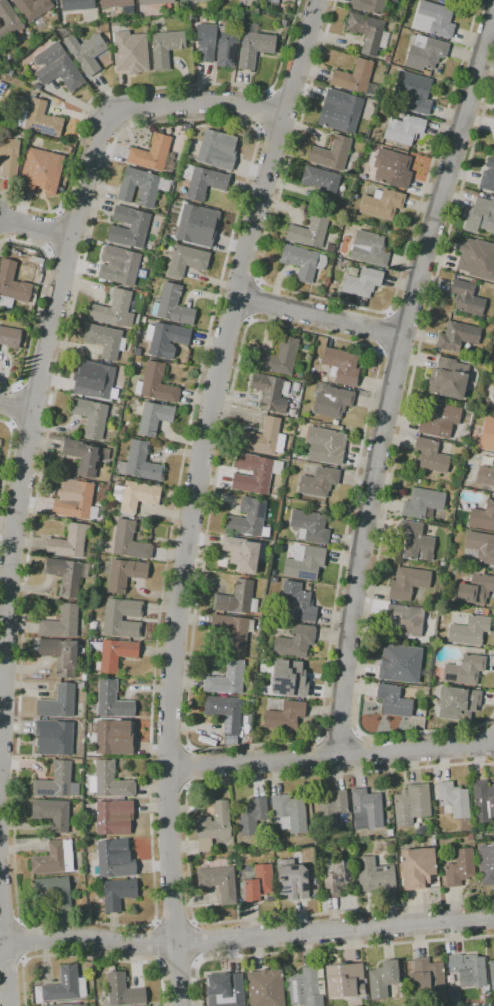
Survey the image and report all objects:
building: (189, 0)
building: (286, 0)
building: (154, 2)
building: (272, 2)
building: (411, 3)
building: (118, 5)
building: (76, 6)
building: (370, 6)
building: (33, 11)
building: (433, 19)
building: (8, 22)
building: (282, 23)
building: (367, 33)
building: (216, 44)
building: (165, 48)
building: (253, 49)
building: (134, 51)
building: (86, 52)
building: (424, 53)
building: (57, 68)
building: (355, 78)
building: (36, 86)
road: (290, 88)
road: (138, 89)
building: (414, 95)
road: (263, 110)
building: (339, 111)
building: (39, 119)
building: (404, 128)
road: (255, 129)
road: (277, 131)
building: (493, 131)
building: (43, 142)
building: (217, 150)
building: (329, 150)
building: (153, 155)
building: (9, 157)
building: (391, 169)
building: (41, 170)
building: (488, 176)
building: (203, 182)
building: (321, 183)
building: (141, 187)
building: (382, 204)
building: (484, 214)
road: (73, 220)
building: (197, 225)
building: (137, 227)
road: (34, 230)
building: (309, 231)
building: (330, 248)
building: (369, 249)
building: (474, 257)
building: (187, 260)
building: (120, 265)
building: (300, 265)
road: (64, 266)
road: (241, 269)
building: (15, 281)
building: (361, 283)
building: (466, 298)
road: (254, 300)
road: (37, 302)
road: (338, 303)
building: (172, 306)
building: (114, 310)
road: (231, 314)
road: (319, 314)
road: (405, 318)
road: (382, 330)
road: (49, 331)
building: (457, 336)
building: (10, 337)
building: (165, 339)
building: (104, 341)
road: (358, 342)
building: (137, 352)
road: (397, 354)
building: (279, 357)
building: (342, 365)
road: (392, 378)
building: (448, 378)
building: (487, 379)
building: (93, 380)
building: (155, 384)
building: (270, 392)
building: (493, 395)
building: (331, 400)
road: (16, 407)
building: (292, 413)
building: (90, 416)
building: (152, 417)
building: (436, 418)
building: (488, 428)
building: (263, 438)
building: (325, 444)
building: (85, 456)
building: (429, 456)
building: (297, 457)
road: (7, 459)
building: (140, 462)
road: (392, 470)
building: (255, 472)
building: (485, 476)
building: (319, 482)
building: (135, 496)
road: (198, 497)
building: (74, 500)
building: (422, 504)
building: (483, 516)
building: (249, 520)
building: (310, 526)
building: (129, 541)
building: (70, 542)
building: (414, 542)
building: (481, 547)
building: (244, 552)
building: (304, 563)
building: (122, 573)
building: (66, 575)
building: (408, 582)
building: (476, 589)
building: (237, 599)
building: (297, 602)
building: (120, 618)
building: (403, 621)
building: (61, 622)
building: (232, 630)
building: (469, 631)
building: (295, 642)
building: (115, 654)
building: (61, 655)
building: (83, 663)
building: (400, 663)
building: (464, 670)
building: (227, 679)
building: (290, 680)
building: (80, 685)
building: (112, 700)
building: (393, 701)
building: (58, 702)
building: (460, 703)
building: (248, 710)
building: (224, 712)
building: (285, 716)
road: (339, 731)
building: (53, 737)
building: (113, 737)
building: (233, 739)
road: (169, 747)
building: (87, 751)
road: (9, 752)
road: (372, 753)
road: (316, 756)
road: (331, 756)
road: (191, 766)
building: (55, 781)
building: (109, 781)
road: (169, 787)
road: (8, 788)
building: (454, 799)
building: (483, 801)
building: (411, 803)
building: (333, 804)
building: (366, 809)
building: (52, 813)
building: (289, 813)
building: (111, 815)
building: (252, 816)
building: (213, 826)
building: (421, 830)
building: (389, 833)
building: (470, 837)
road: (187, 851)
building: (54, 859)
building: (112, 861)
building: (485, 862)
building: (417, 867)
building: (459, 868)
building: (337, 876)
building: (375, 876)
building: (292, 880)
building: (219, 883)
building: (259, 884)
building: (54, 891)
building: (117, 894)
road: (10, 919)
road: (173, 921)
road: (22, 939)
road: (197, 940)
road: (247, 940)
road: (153, 944)
road: (323, 948)
road: (88, 957)
road: (12, 962)
road: (178, 963)
building: (468, 970)
road: (2, 973)
building: (491, 974)
building: (383, 979)
building: (344, 980)
building: (426, 980)
building: (65, 985)
building: (306, 985)
building: (97, 987)
building: (269, 988)
building: (123, 991)
building: (229, 993)
building: (455, 995)
building: (481, 998)
building: (445, 1003)
building: (43, 1004)
building: (70, 1005)

